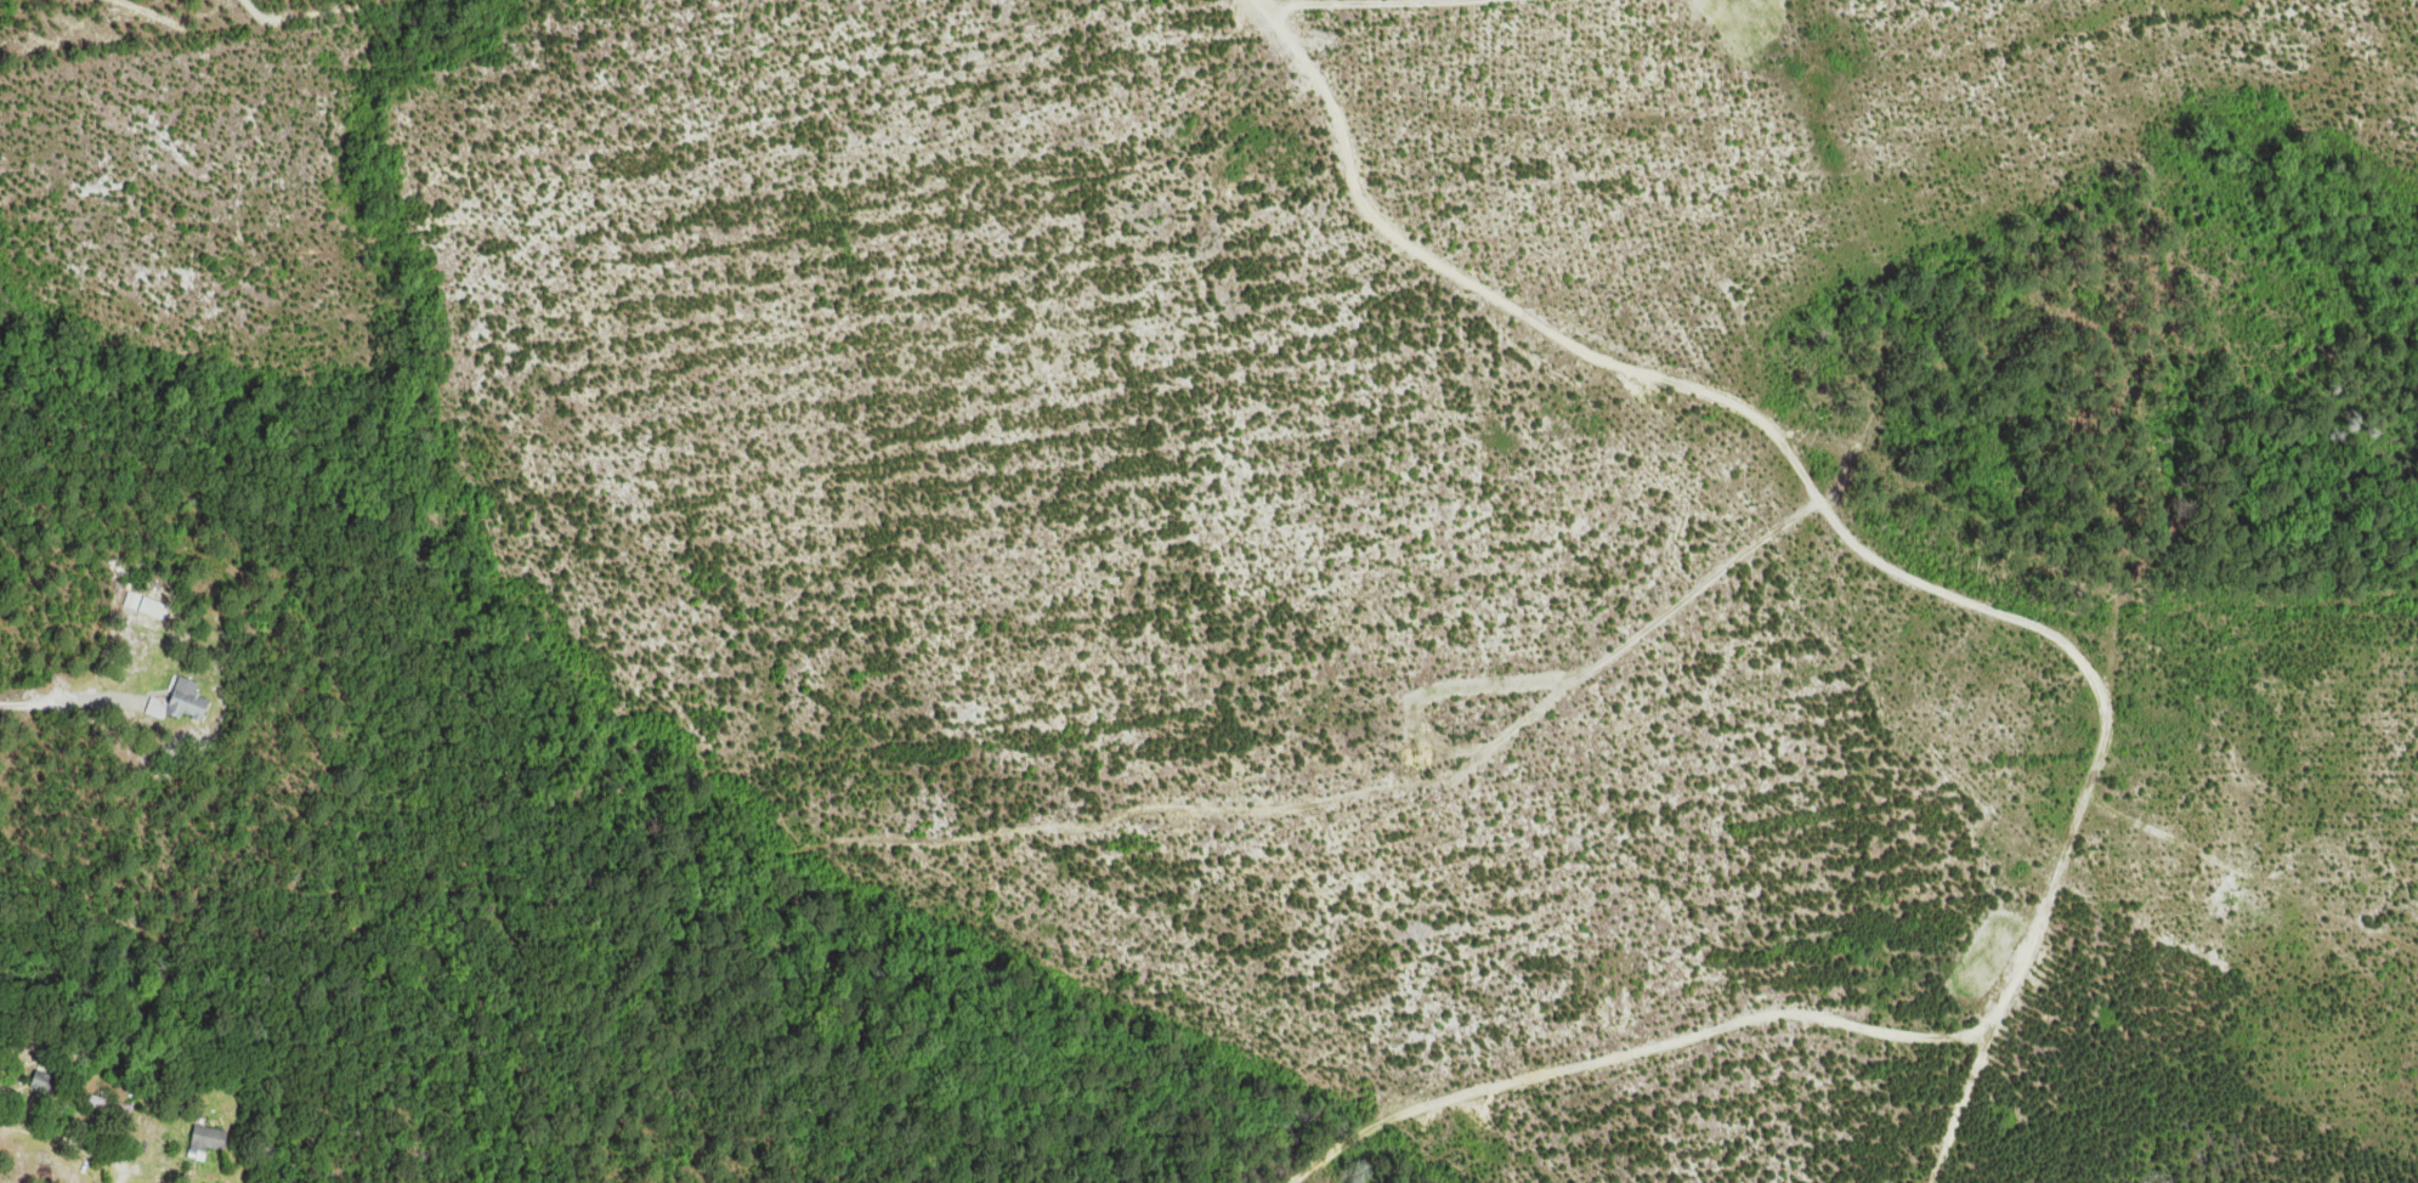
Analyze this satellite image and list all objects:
building: (153, 606)
building: (181, 700)
building: (203, 1139)
road: (66, 1142)

